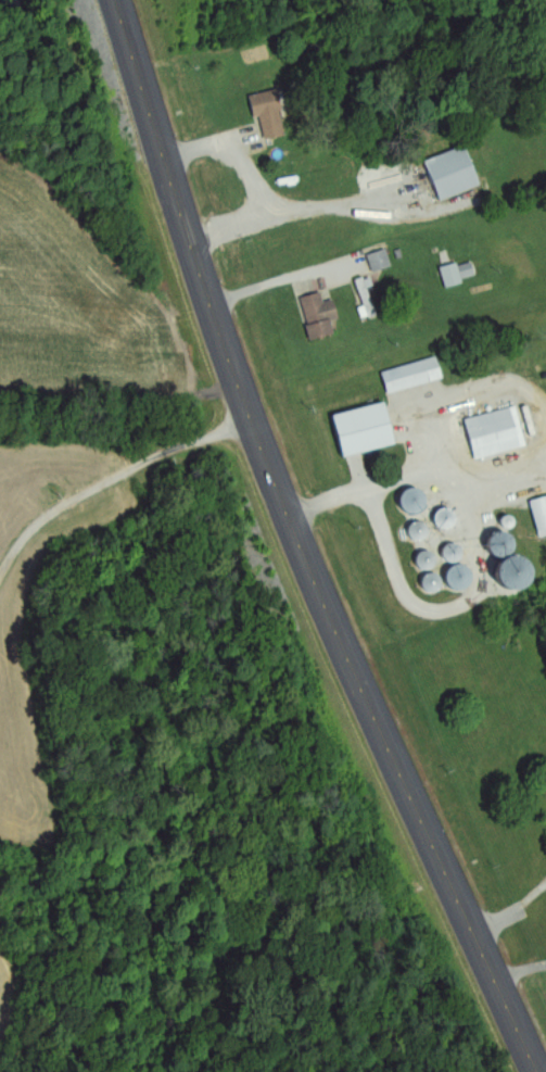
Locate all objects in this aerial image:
building: (271, 113)
building: (456, 174)
road: (259, 184)
building: (382, 262)
building: (455, 276)
road: (271, 285)
building: (370, 298)
building: (322, 316)
building: (416, 376)
building: (367, 430)
building: (499, 432)
road: (539, 476)
road: (414, 477)
road: (112, 478)
building: (416, 502)
building: (541, 515)
building: (447, 516)
building: (505, 545)
road: (301, 546)
building: (456, 553)
building: (518, 575)
building: (460, 577)
road: (512, 905)

